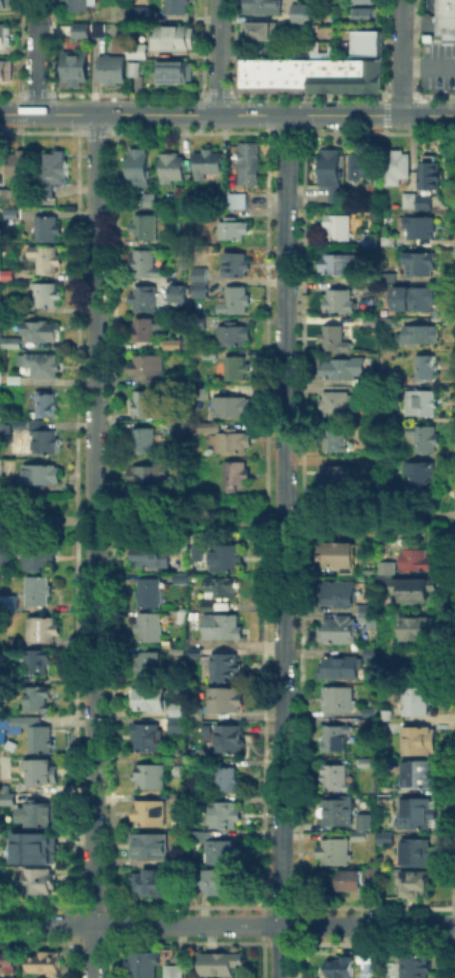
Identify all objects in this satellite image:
building: (361, 1)
building: (6, 3)
building: (78, 5)
building: (175, 6)
building: (259, 6)
building: (445, 7)
building: (137, 11)
building: (114, 12)
building: (298, 13)
building: (361, 15)
building: (445, 26)
building: (79, 29)
building: (95, 30)
building: (256, 30)
building: (4, 34)
building: (171, 36)
building: (365, 42)
building: (135, 48)
road: (35, 56)
road: (217, 56)
road: (400, 57)
parking lot: (438, 65)
building: (73, 66)
road: (427, 66)
building: (108, 67)
building: (131, 68)
building: (5, 70)
building: (173, 72)
building: (278, 74)
building: (371, 74)
building: (246, 75)
building: (266, 75)
building: (290, 75)
building: (301, 75)
building: (312, 75)
building: (325, 75)
building: (347, 75)
road: (227, 114)
building: (23, 165)
building: (207, 165)
building: (249, 166)
building: (140, 169)
building: (364, 169)
building: (397, 169)
building: (173, 170)
building: (54, 173)
building: (430, 173)
building: (332, 175)
building: (4, 194)
building: (179, 196)
building: (406, 199)
building: (148, 200)
building: (223, 201)
building: (236, 201)
building: (418, 204)
building: (11, 215)
building: (145, 229)
building: (340, 229)
building: (422, 230)
building: (49, 231)
building: (232, 231)
building: (371, 241)
building: (389, 242)
building: (173, 243)
building: (47, 261)
building: (339, 265)
building: (146, 266)
building: (421, 266)
building: (236, 268)
building: (6, 277)
building: (391, 277)
building: (201, 283)
building: (178, 295)
building: (46, 297)
building: (420, 297)
building: (144, 300)
building: (341, 302)
building: (235, 303)
building: (198, 320)
building: (387, 323)
building: (147, 332)
building: (42, 333)
building: (234, 337)
building: (419, 338)
building: (336, 340)
building: (10, 343)
building: (174, 345)
building: (212, 354)
building: (42, 366)
building: (148, 367)
building: (238, 370)
building: (343, 370)
building: (428, 370)
building: (0, 379)
building: (15, 380)
building: (202, 391)
building: (144, 404)
building: (338, 405)
building: (422, 405)
building: (46, 407)
building: (232, 408)
building: (181, 411)
building: (398, 412)
building: (19, 424)
building: (177, 428)
building: (5, 433)
building: (43, 438)
building: (336, 439)
building: (226, 440)
building: (423, 440)
building: (144, 442)
building: (368, 465)
building: (421, 475)
building: (42, 476)
building: (149, 477)
building: (236, 478)
building: (338, 478)
building: (184, 482)
park: (35, 515)
road: (106, 516)
park: (187, 516)
road: (247, 516)
road: (368, 516)
park: (377, 516)
road: (92, 545)
road: (281, 545)
building: (5, 554)
building: (154, 555)
building: (339, 558)
building: (227, 559)
building: (39, 560)
building: (416, 560)
building: (194, 562)
building: (384, 567)
building: (393, 568)
building: (179, 577)
building: (222, 589)
building: (414, 591)
building: (38, 593)
building: (151, 594)
building: (338, 595)
building: (8, 603)
building: (209, 607)
building: (371, 614)
building: (183, 617)
building: (223, 628)
building: (151, 629)
building: (416, 629)
building: (41, 630)
building: (338, 631)
building: (15, 641)
building: (197, 653)
building: (38, 662)
building: (149, 666)
building: (225, 669)
building: (342, 669)
building: (418, 699)
building: (38, 700)
building: (151, 700)
building: (226, 700)
building: (339, 700)
building: (181, 718)
building: (368, 723)
building: (35, 734)
building: (149, 739)
building: (232, 740)
building: (337, 740)
building: (421, 741)
building: (177, 765)
building: (368, 765)
building: (41, 772)
building: (420, 776)
building: (153, 778)
building: (337, 778)
building: (229, 782)
building: (6, 797)
building: (18, 800)
building: (180, 800)
building: (152, 813)
building: (340, 814)
building: (417, 814)
building: (42, 815)
building: (226, 816)
building: (368, 826)
building: (362, 835)
building: (385, 839)
building: (151, 847)
building: (32, 850)
building: (226, 852)
building: (336, 853)
building: (419, 854)
building: (223, 882)
building: (353, 882)
building: (40, 883)
building: (417, 883)
building: (148, 885)
road: (227, 924)
building: (7, 964)
building: (341, 964)
building: (47, 965)
building: (223, 965)
building: (413, 965)
building: (145, 966)
building: (176, 974)

